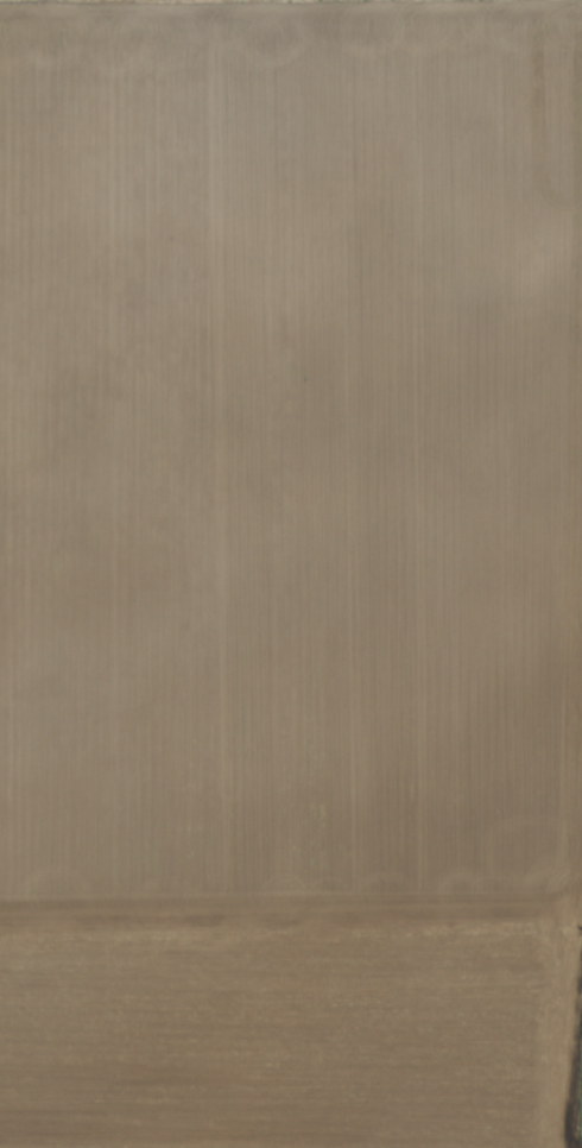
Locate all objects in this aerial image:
road: (468, 1032)

